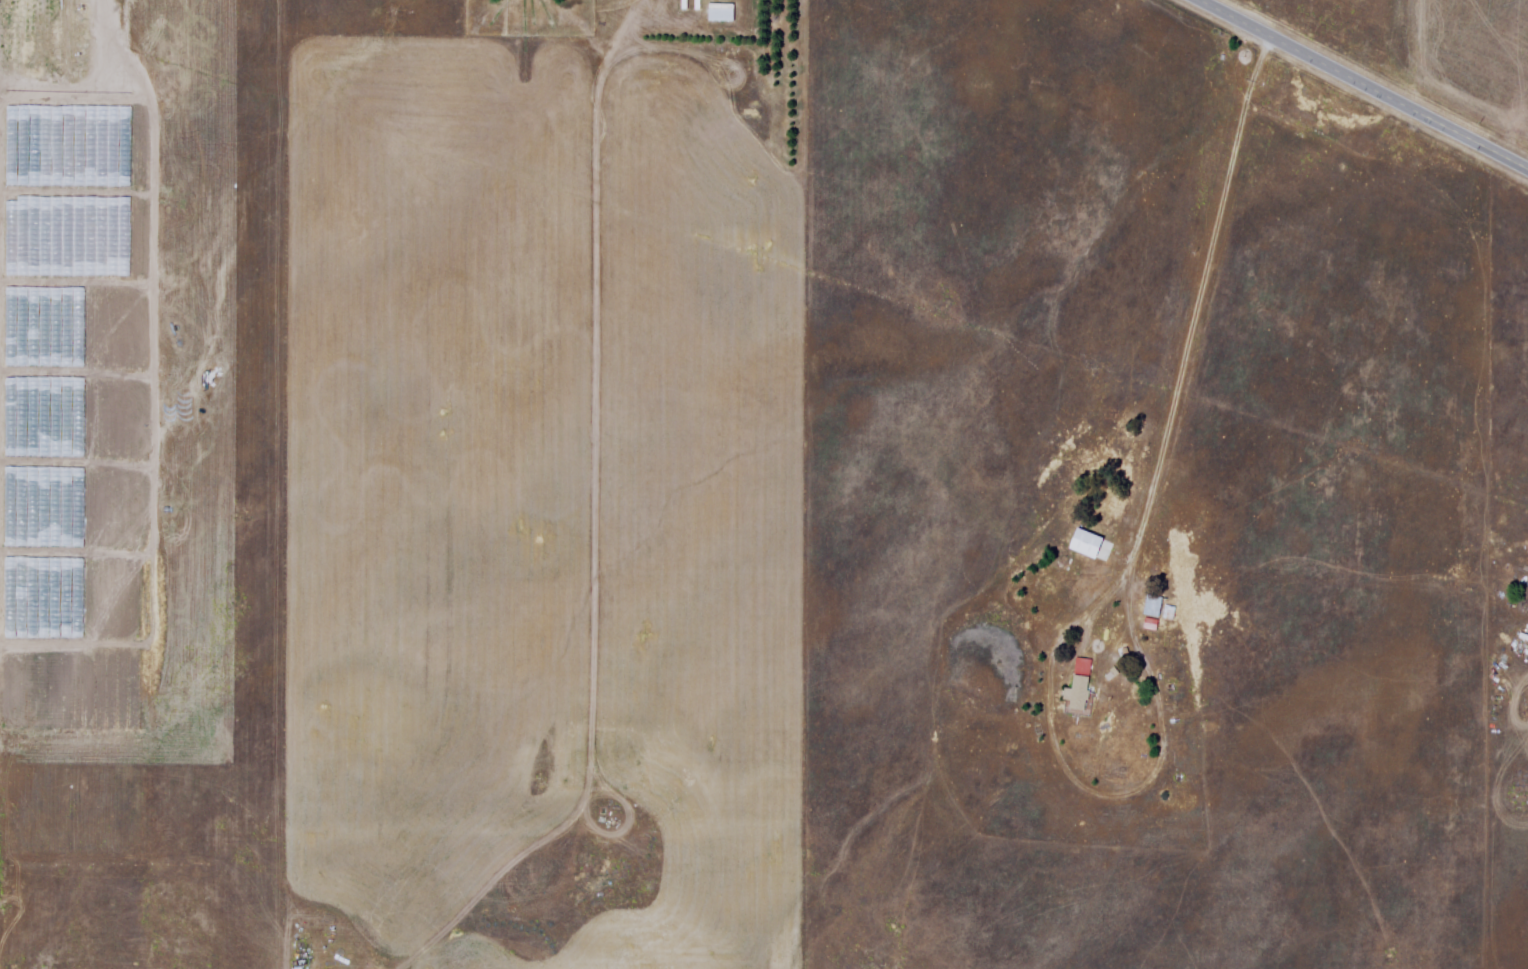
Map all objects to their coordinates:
building: (722, 11)
road: (596, 44)
road: (1363, 84)
road: (1, 122)
road: (1201, 311)
building: (1087, 540)
building: (1155, 605)
building: (1147, 606)
building: (1170, 611)
building: (1152, 623)
building: (1084, 665)
building: (1080, 695)

